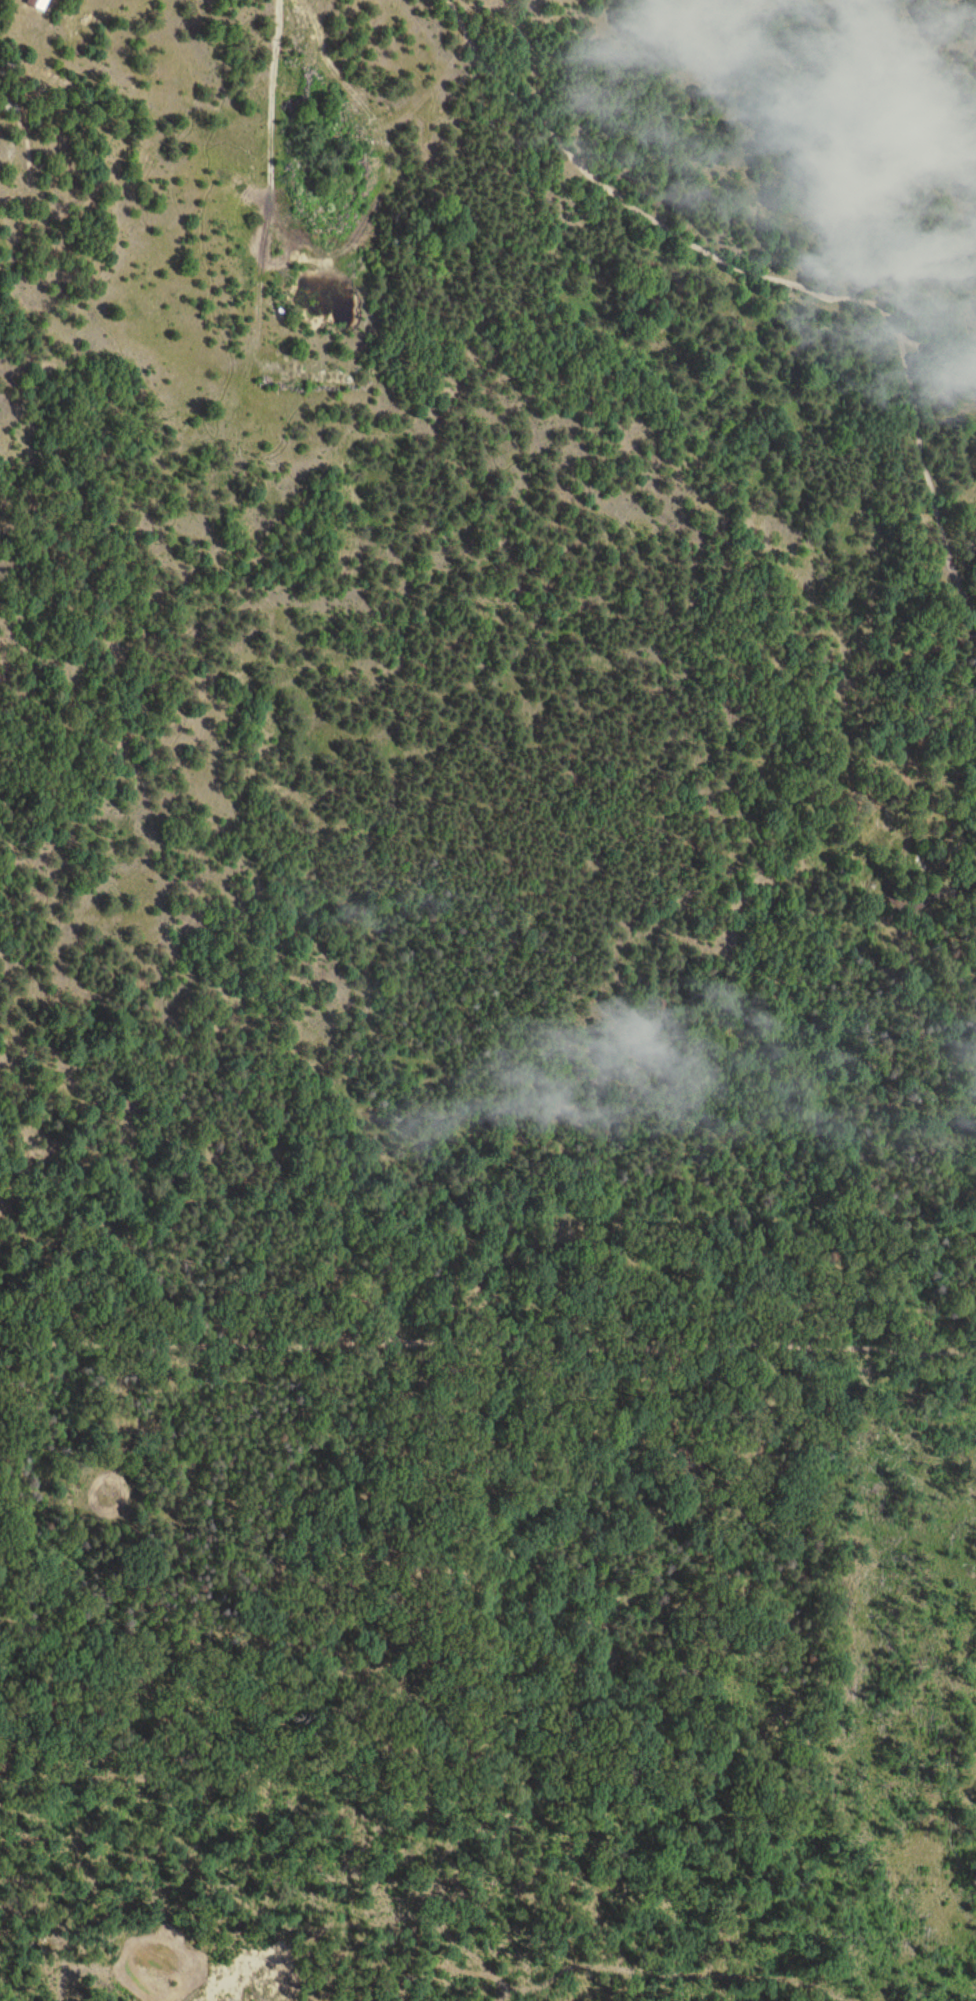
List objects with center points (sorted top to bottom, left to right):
road: (274, 94)
road: (764, 277)
road: (937, 350)
road: (487, 1326)

